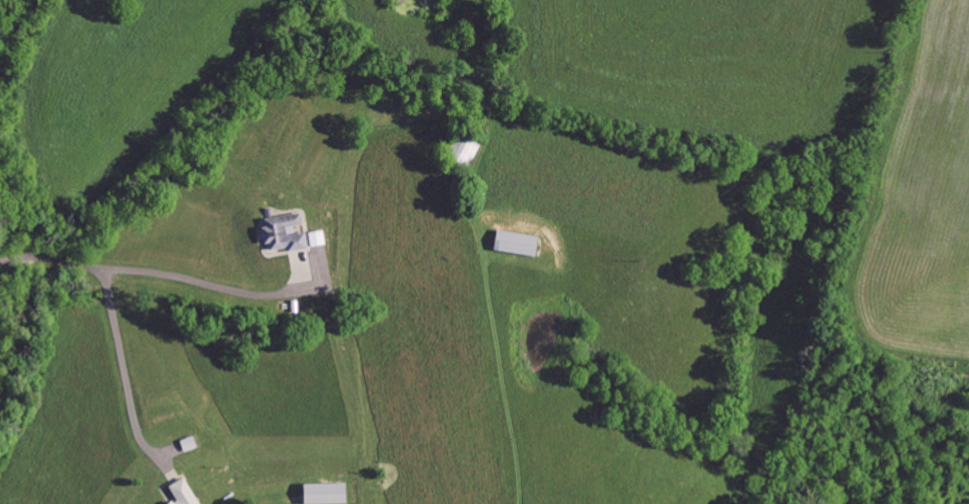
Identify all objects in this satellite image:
building: (461, 150)
building: (282, 234)
building: (316, 239)
building: (513, 244)
road: (153, 271)
road: (124, 367)
building: (180, 493)
building: (322, 494)

